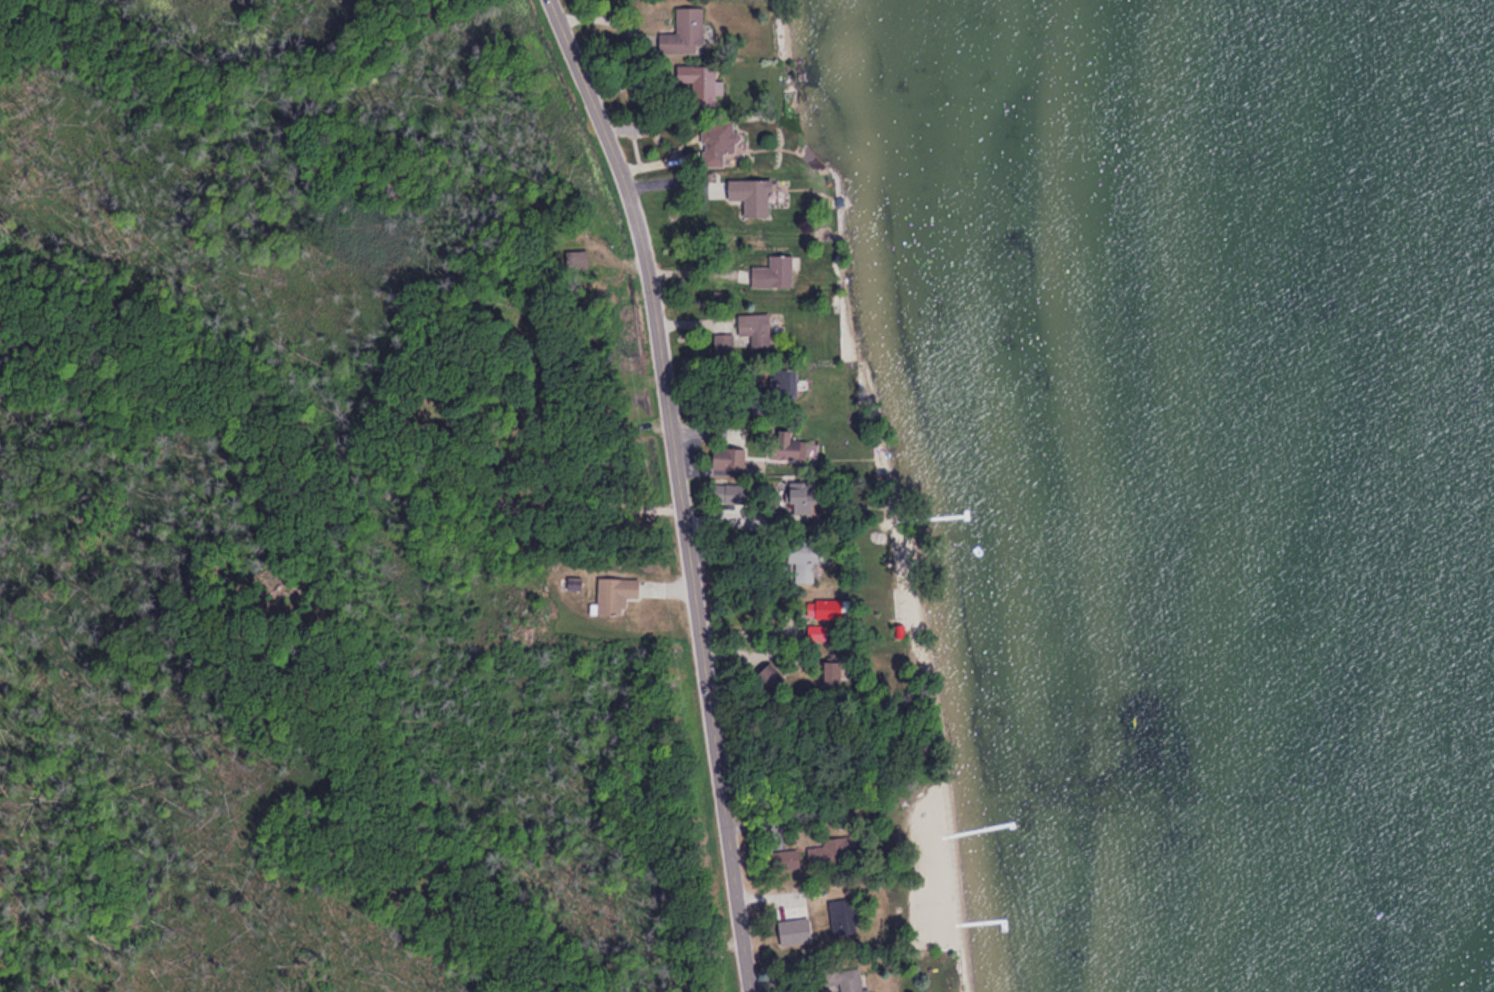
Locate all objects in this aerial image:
building: (1245, 9)
building: (681, 32)
building: (697, 87)
building: (715, 137)
building: (748, 195)
building: (775, 270)
building: (751, 328)
building: (781, 379)
building: (782, 443)
building: (725, 455)
road: (679, 488)
building: (728, 492)
building: (794, 499)
building: (798, 556)
building: (613, 592)
building: (823, 607)
building: (815, 630)
building: (826, 671)
building: (762, 674)
building: (829, 850)
building: (782, 857)
building: (840, 910)
building: (848, 979)

